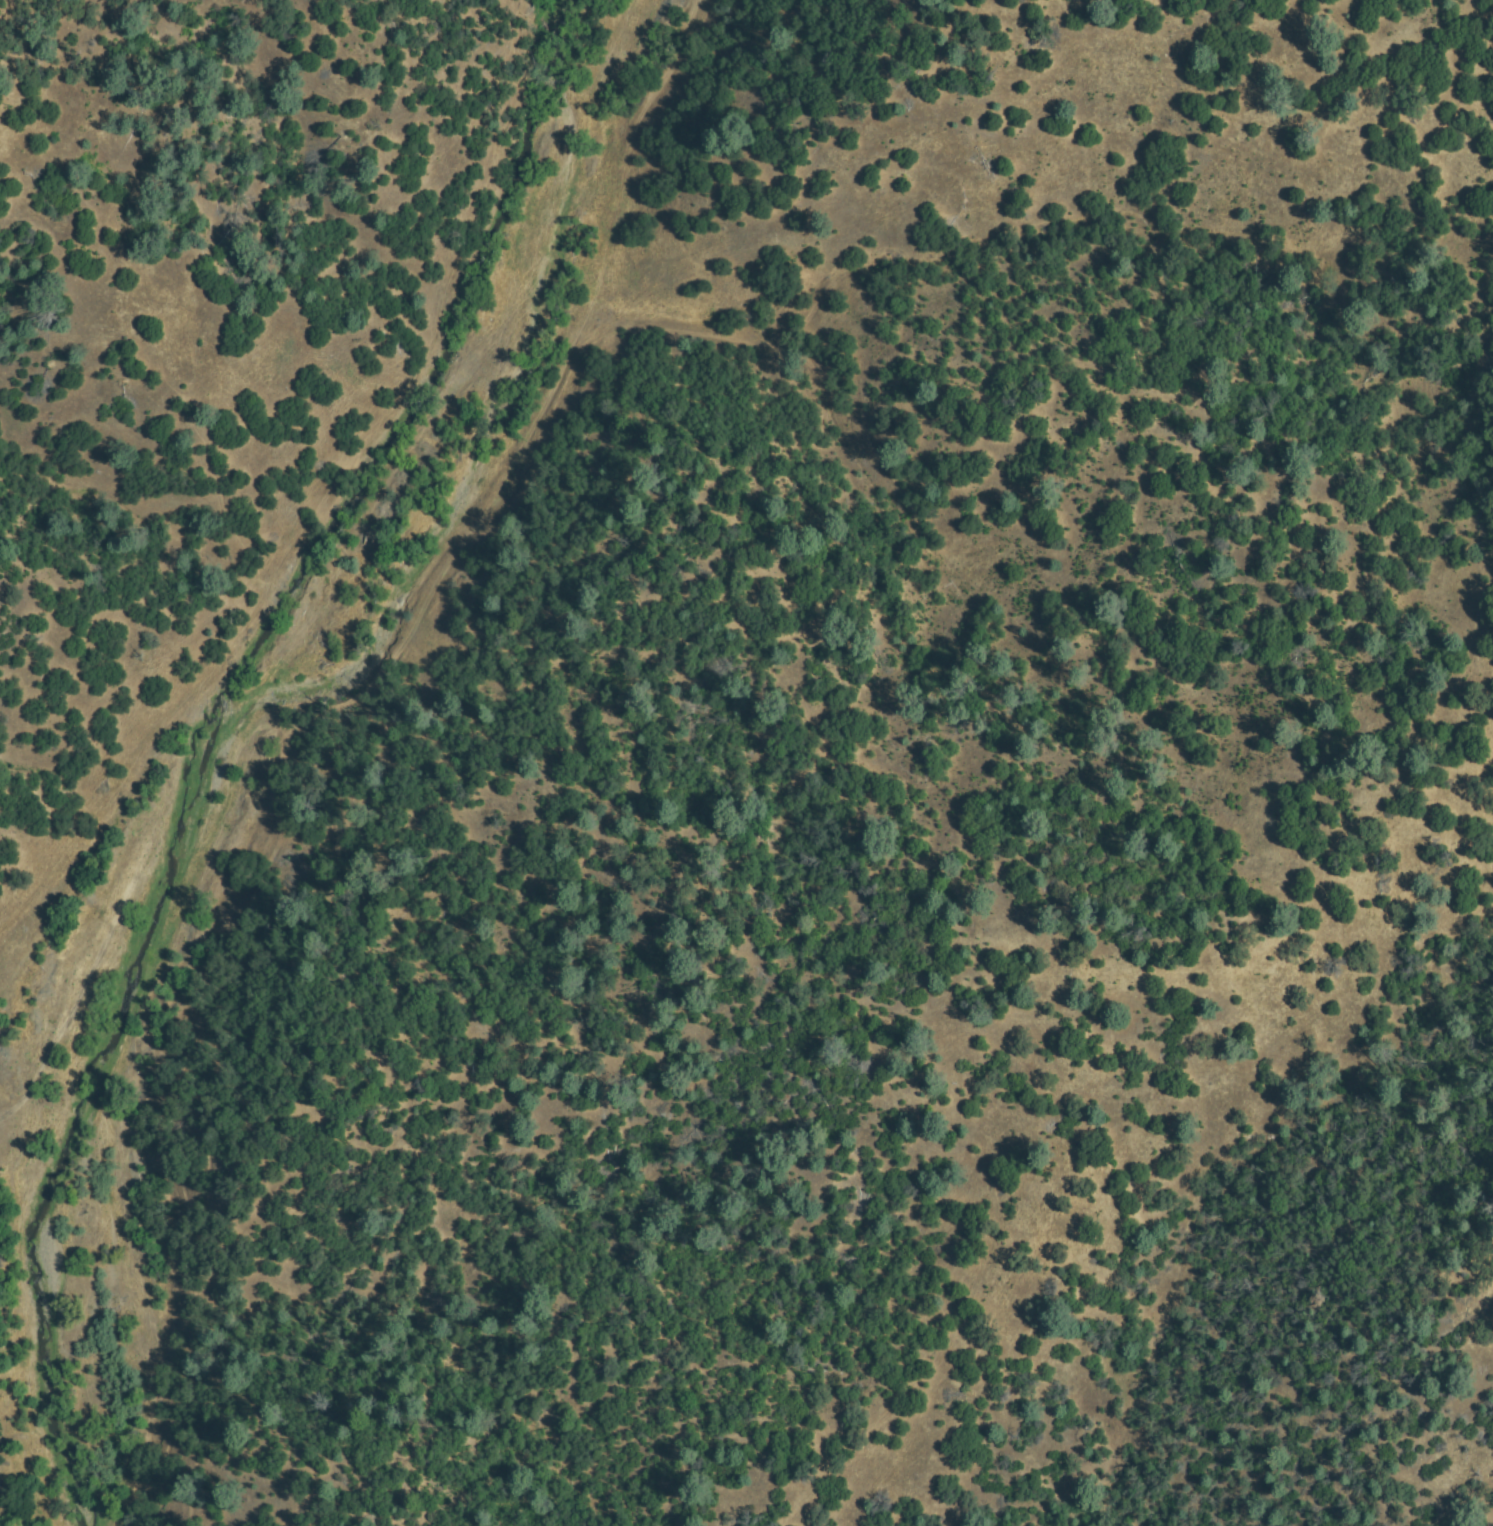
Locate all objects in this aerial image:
road: (244, 631)

